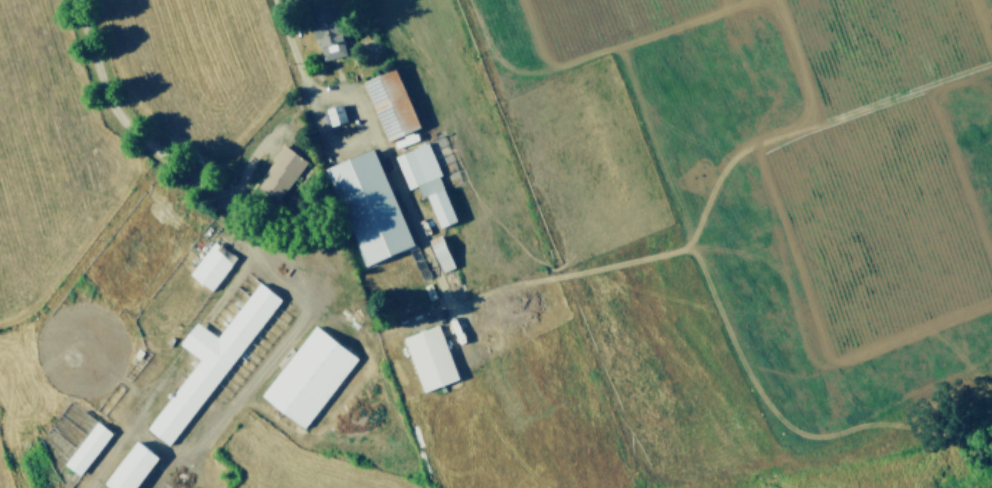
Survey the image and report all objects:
building: (327, 31)
road: (297, 59)
building: (389, 101)
building: (334, 110)
road: (173, 159)
building: (416, 163)
building: (279, 171)
building: (439, 205)
building: (379, 214)
crop: (495, 243)
building: (210, 264)
building: (434, 358)
building: (208, 361)
building: (308, 375)
building: (86, 446)
building: (130, 466)

